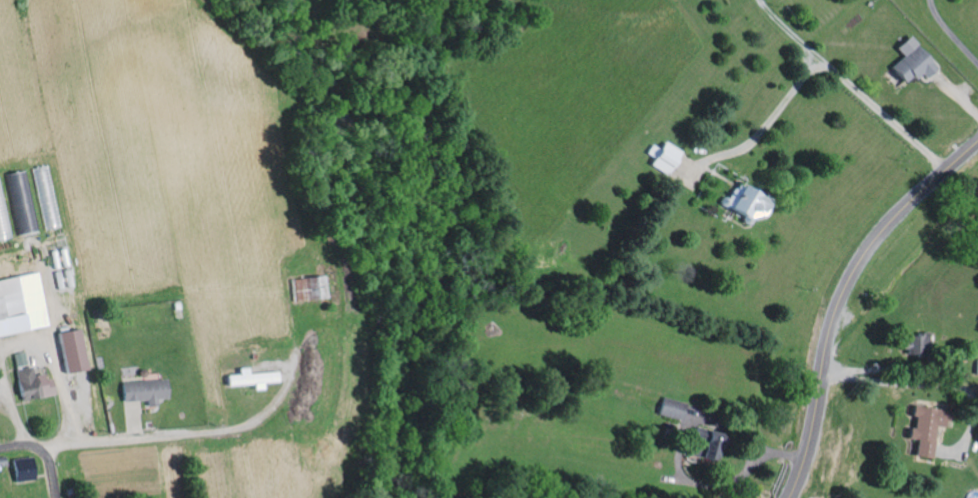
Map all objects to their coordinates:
building: (912, 62)
road: (823, 66)
building: (665, 157)
building: (48, 197)
building: (23, 201)
building: (747, 202)
building: (4, 215)
building: (308, 287)
road: (843, 298)
building: (22, 304)
building: (915, 343)
building: (72, 350)
building: (251, 378)
building: (31, 379)
building: (145, 390)
road: (897, 396)
building: (673, 408)
building: (926, 427)
road: (159, 433)
building: (706, 443)
road: (43, 455)
building: (24, 468)

